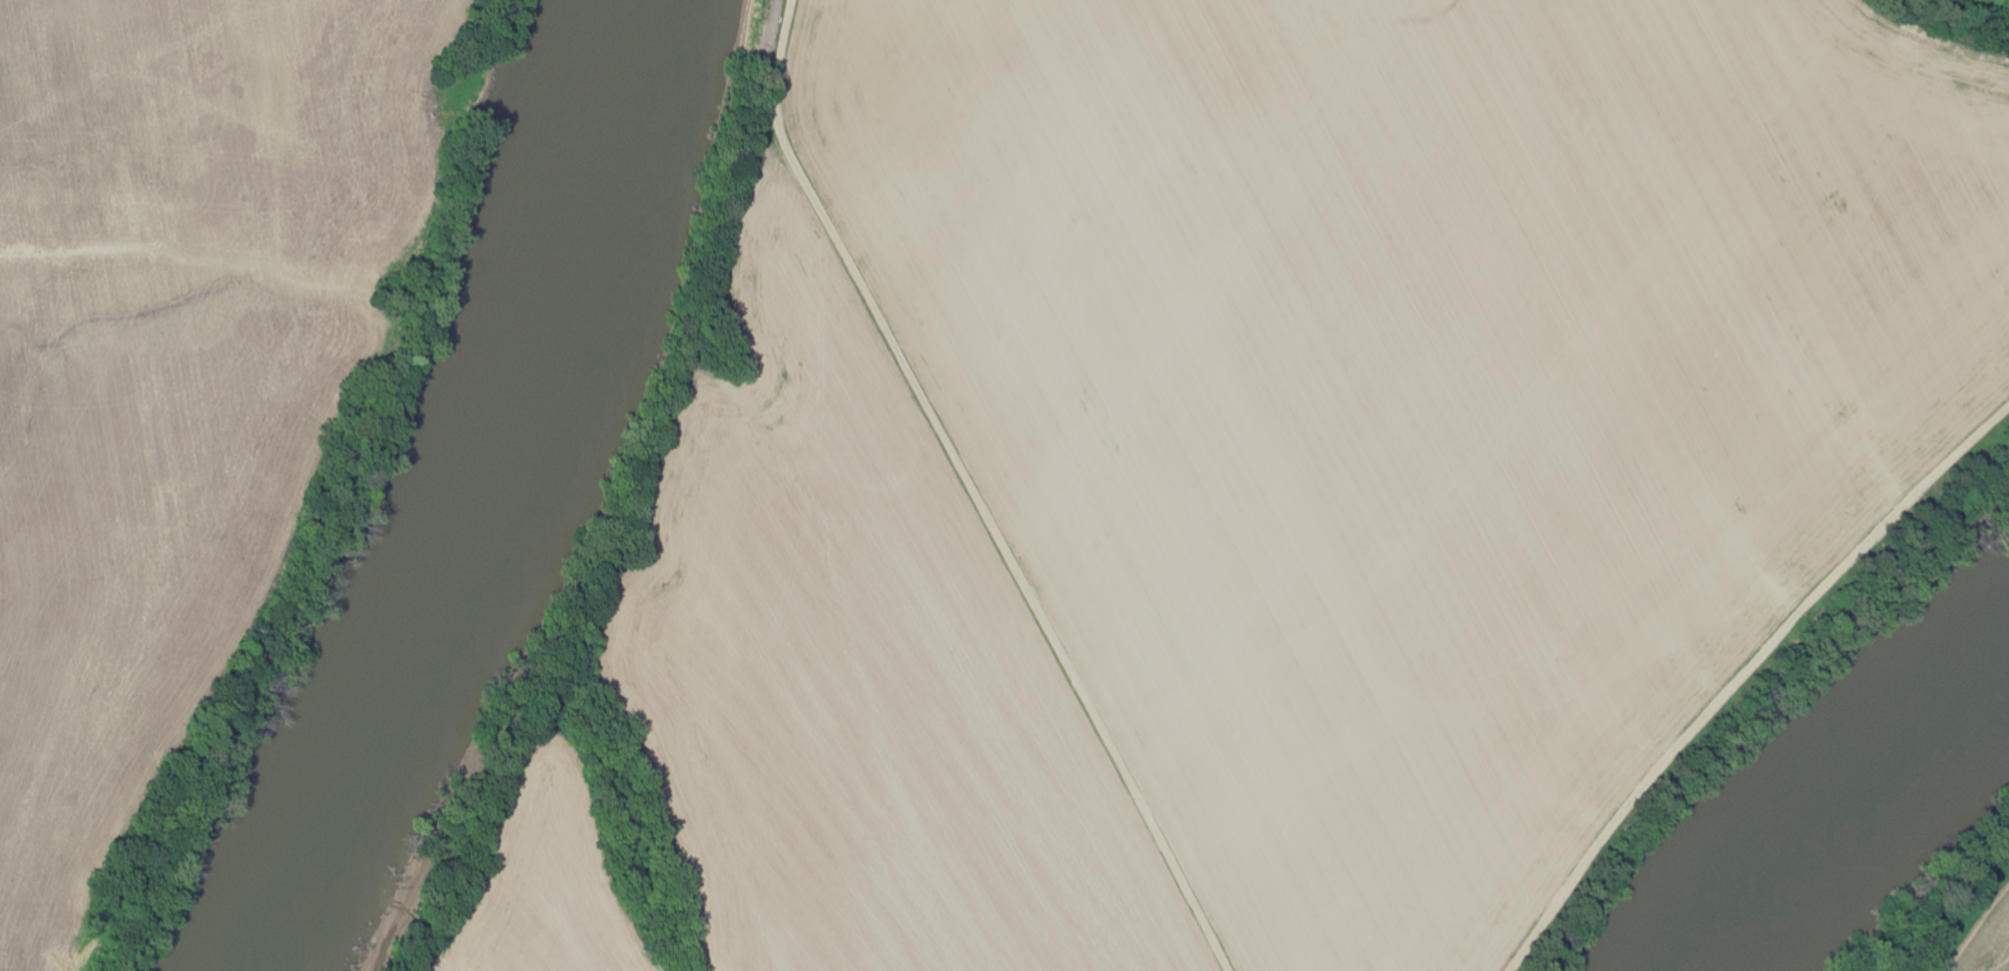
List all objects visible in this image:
river: (445, 501)
river: (1819, 776)

